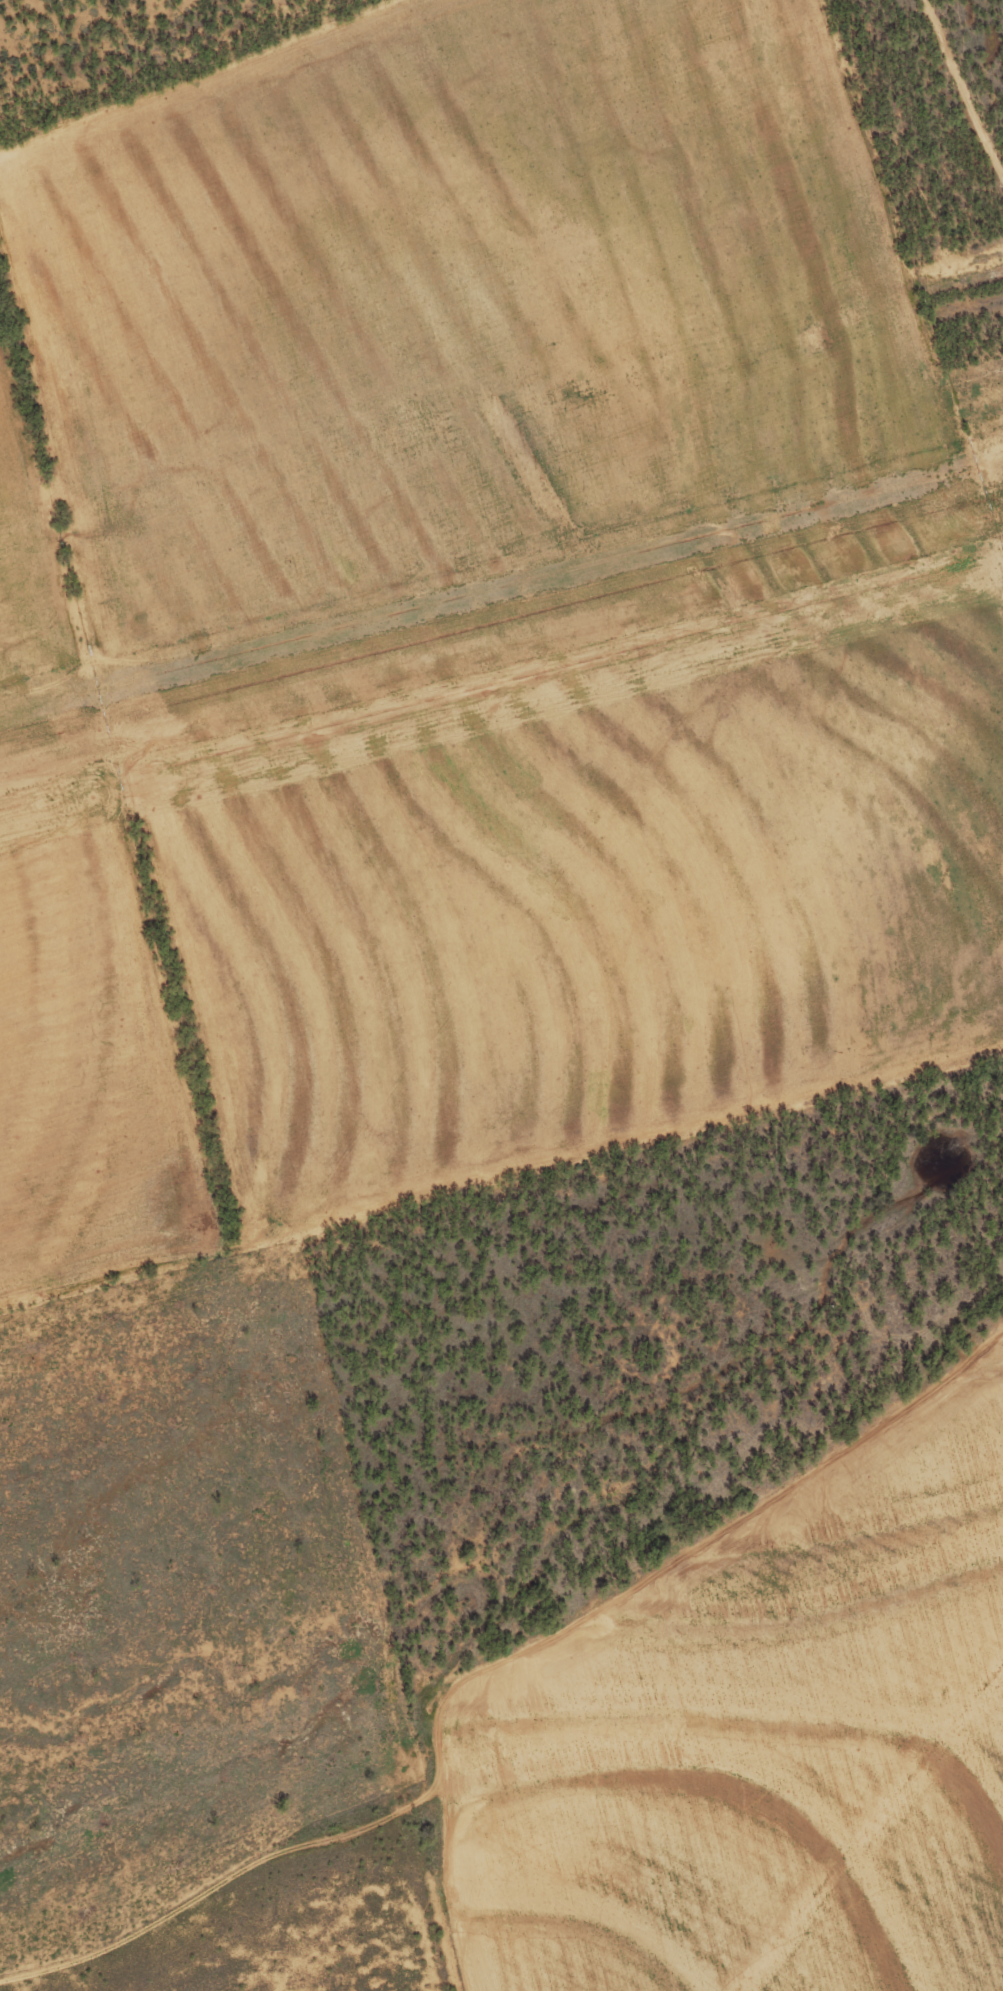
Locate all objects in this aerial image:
road: (959, 73)

